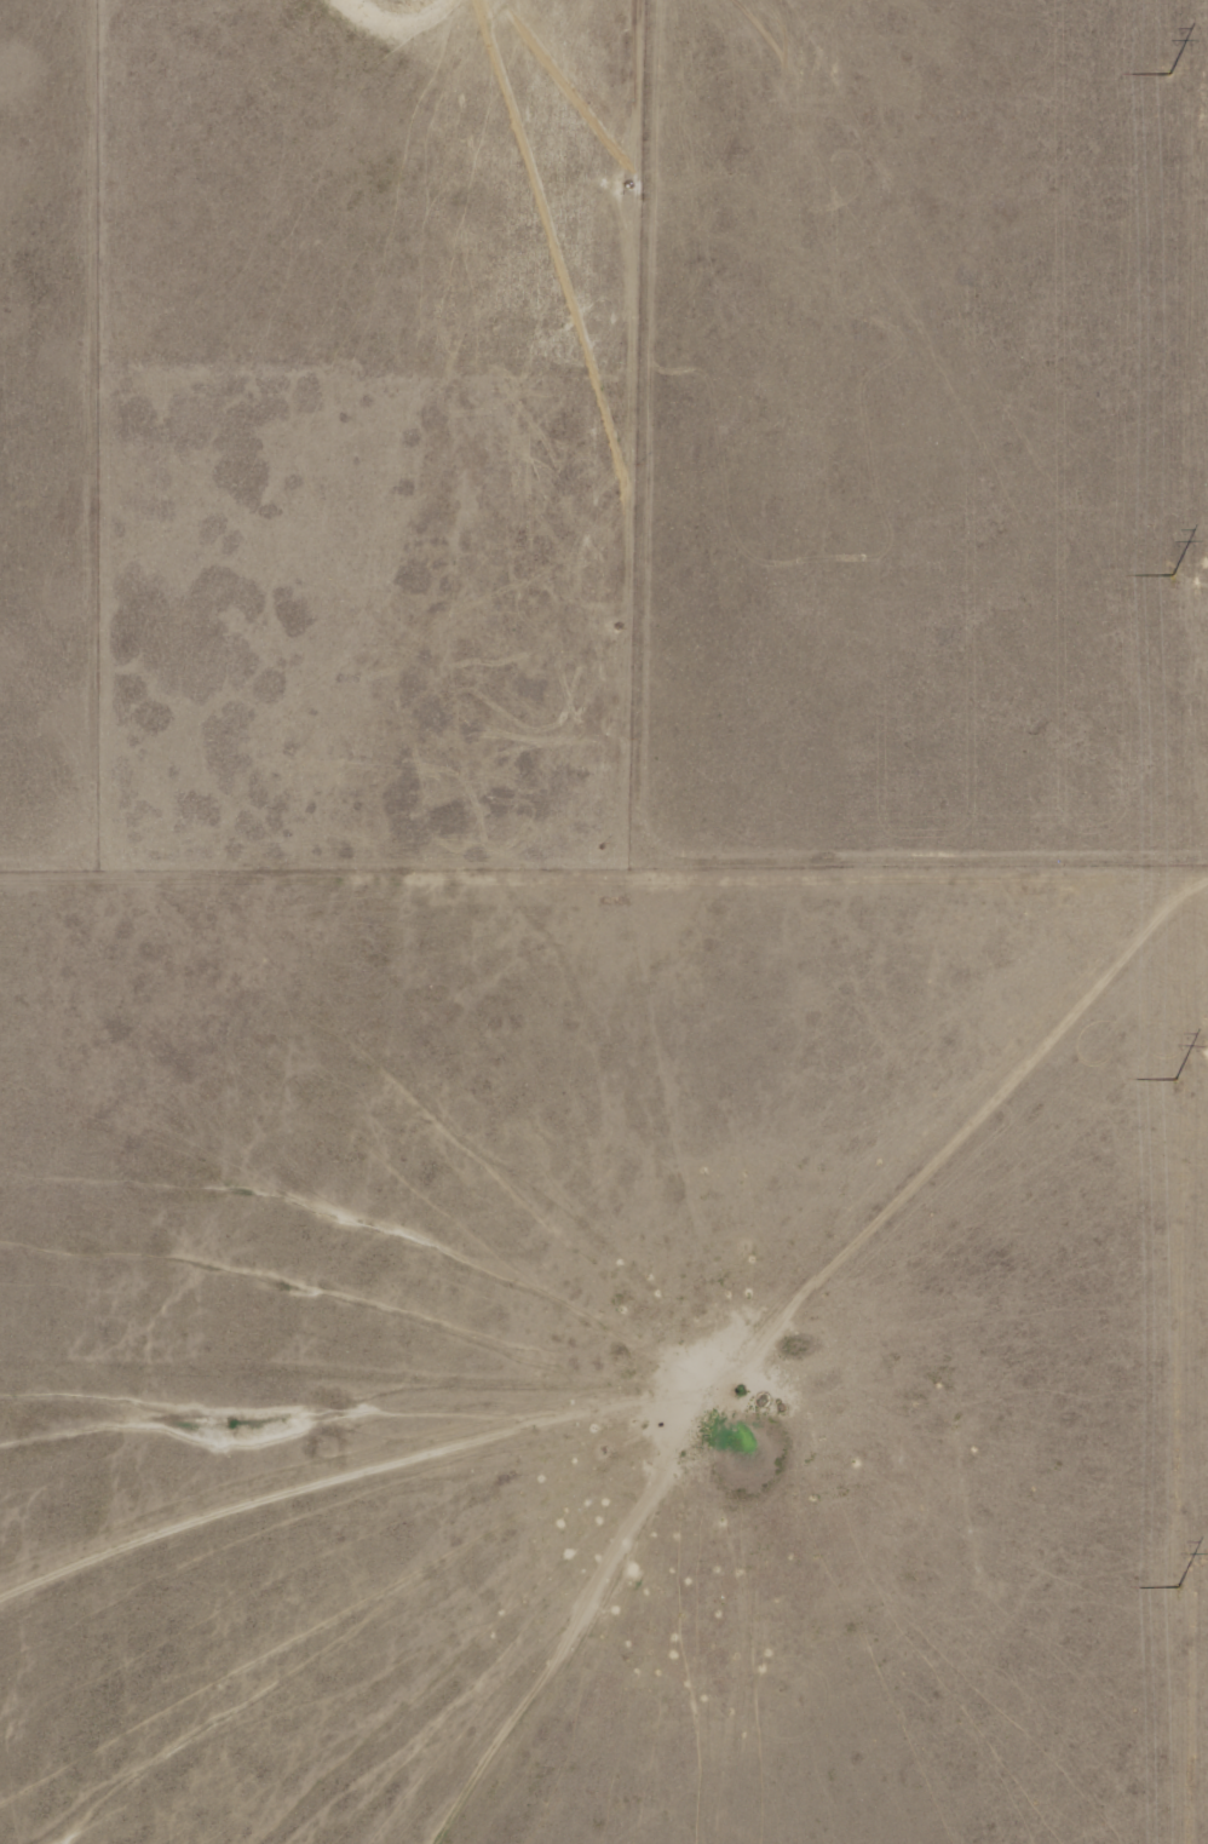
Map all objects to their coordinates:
power tower: (1167, 73)
power tower: (1169, 574)
power tower: (1172, 1079)
power tower: (1174, 1587)

